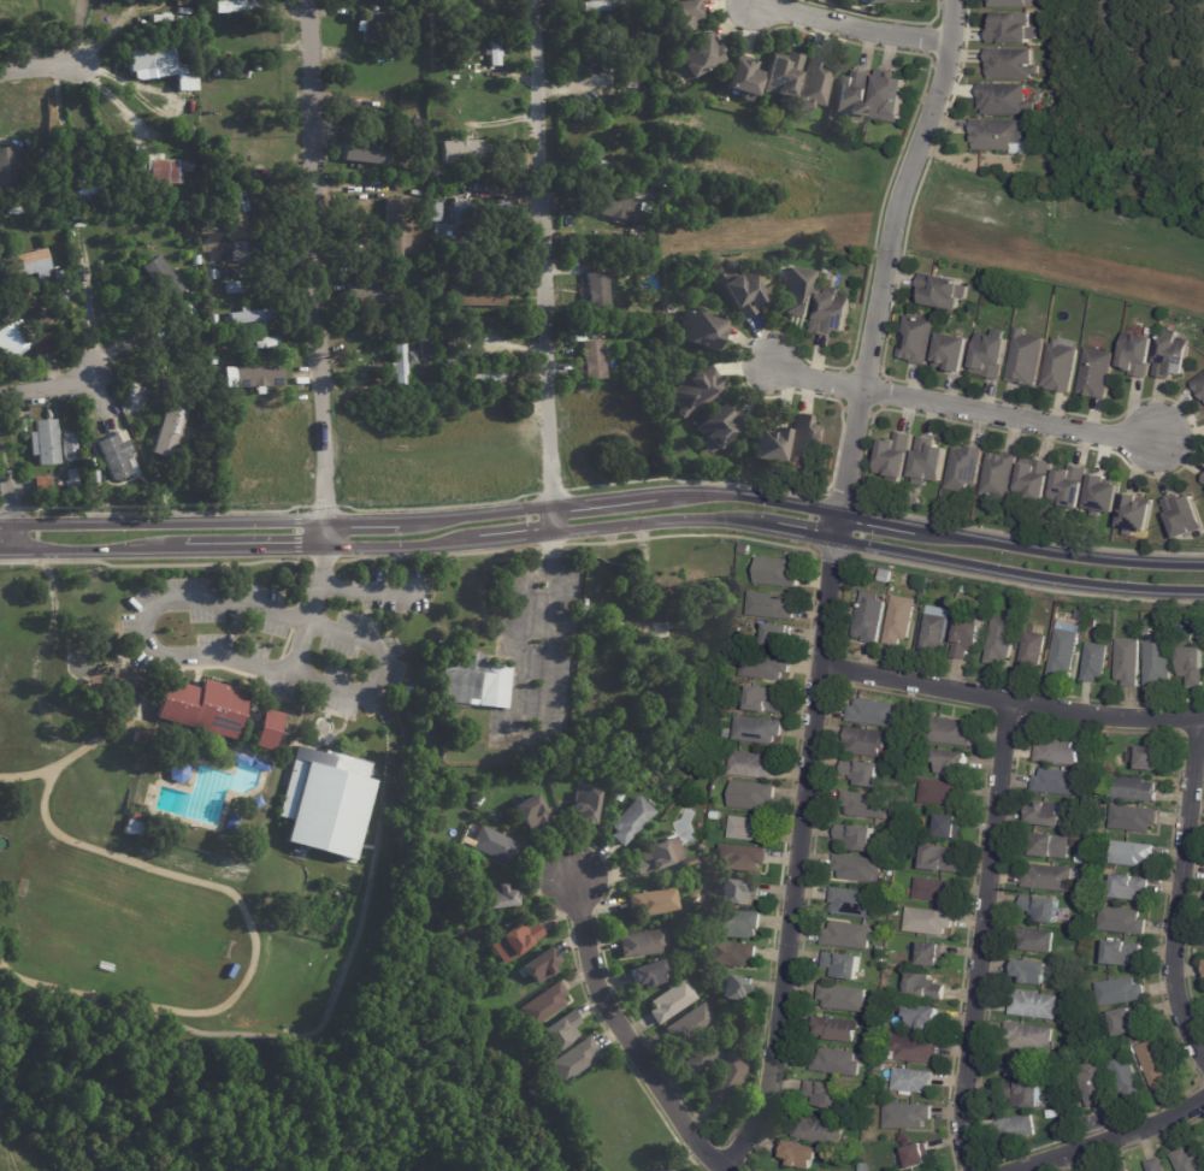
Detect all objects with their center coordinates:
building: (892, 2)
building: (1009, 4)
building: (607, 6)
building: (242, 7)
building: (645, 8)
building: (394, 10)
building: (477, 11)
building: (684, 16)
road: (854, 25)
building: (373, 28)
building: (1011, 31)
building: (496, 47)
building: (607, 47)
building: (696, 58)
road: (43, 64)
building: (1010, 65)
building: (159, 67)
building: (229, 67)
building: (631, 67)
building: (205, 73)
building: (783, 76)
building: (631, 79)
building: (743, 79)
building: (815, 83)
building: (641, 95)
building: (852, 96)
building: (887, 100)
building: (761, 101)
building: (1004, 101)
building: (136, 104)
building: (752, 113)
building: (370, 117)
building: (830, 125)
building: (999, 137)
building: (365, 148)
building: (93, 149)
building: (460, 153)
building: (64, 155)
building: (138, 156)
building: (653, 160)
building: (8, 167)
building: (165, 170)
building: (618, 171)
building: (655, 176)
park: (738, 177)
building: (88, 193)
building: (642, 194)
building: (181, 207)
building: (613, 208)
building: (16, 211)
building: (236, 212)
building: (435, 213)
building: (424, 214)
building: (394, 219)
building: (101, 221)
building: (77, 224)
building: (453, 229)
road: (885, 252)
road: (1178, 253)
building: (196, 261)
building: (649, 262)
building: (26, 265)
road: (539, 267)
road: (319, 273)
building: (212, 274)
building: (58, 277)
building: (163, 278)
building: (247, 289)
building: (368, 292)
building: (942, 292)
building: (476, 294)
building: (797, 294)
building: (597, 295)
building: (743, 295)
building: (61, 296)
building: (185, 311)
building: (651, 311)
building: (832, 315)
building: (249, 318)
building: (211, 321)
building: (600, 330)
building: (698, 332)
building: (242, 339)
building: (19, 341)
road: (131, 341)
building: (916, 341)
building: (265, 342)
road: (512, 348)
building: (426, 349)
building: (260, 350)
building: (952, 354)
building: (453, 356)
building: (1138, 356)
building: (990, 359)
building: (1174, 359)
building: (1025, 360)
building: (400, 361)
building: (212, 362)
building: (592, 362)
building: (1060, 368)
building: (485, 375)
building: (1096, 375)
building: (254, 378)
building: (1199, 386)
road: (46, 390)
building: (692, 390)
road: (962, 409)
building: (714, 425)
building: (169, 431)
building: (805, 442)
building: (43, 444)
building: (69, 448)
building: (771, 448)
building: (896, 455)
building: (116, 457)
building: (928, 462)
building: (964, 469)
building: (92, 477)
building: (999, 477)
building: (1035, 480)
building: (70, 481)
building: (1203, 481)
building: (42, 487)
building: (1070, 487)
building: (1103, 497)
road: (604, 501)
road: (11, 505)
building: (1137, 516)
building: (1184, 518)
road: (604, 528)
building: (1112, 537)
building: (744, 549)
building: (777, 573)
building: (886, 574)
road: (314, 584)
building: (677, 584)
road: (359, 589)
building: (966, 590)
building: (622, 599)
building: (769, 607)
building: (1084, 616)
building: (869, 617)
building: (899, 620)
building: (1092, 623)
building: (680, 631)
building: (933, 633)
road: (547, 635)
building: (774, 635)
building: (1147, 635)
building: (966, 639)
building: (1001, 640)
building: (704, 644)
road: (144, 646)
building: (1063, 650)
building: (1032, 651)
building: (1094, 662)
building: (1127, 662)
building: (1157, 664)
building: (1192, 664)
building: (763, 666)
road: (377, 672)
building: (473, 682)
building: (726, 688)
building: (762, 699)
road: (1010, 700)
building: (199, 706)
building: (870, 712)
building: (482, 718)
building: (445, 722)
building: (264, 729)
building: (756, 731)
building: (949, 733)
road: (94, 740)
road: (390, 743)
building: (864, 743)
building: (1057, 751)
building: (721, 758)
building: (1150, 759)
building: (950, 762)
building: (752, 765)
road: (26, 773)
building: (861, 773)
building: (1106, 776)
building: (1057, 782)
building: (672, 787)
building: (1133, 791)
building: (942, 793)
building: (619, 796)
building: (750, 796)
building: (478, 800)
building: (324, 802)
building: (863, 805)
building: (584, 806)
building: (532, 814)
building: (1045, 815)
building: (715, 817)
building: (1132, 818)
building: (631, 821)
building: (701, 826)
building: (948, 827)
building: (748, 829)
building: (1091, 830)
park: (194, 832)
building: (903, 834)
building: (855, 838)
building: (496, 845)
road: (798, 845)
building: (1051, 847)
building: (1131, 853)
building: (659, 856)
building: (419, 857)
building: (742, 858)
building: (939, 859)
building: (1080, 859)
building: (689, 862)
building: (890, 863)
building: (856, 869)
building: (1049, 879)
building: (1127, 887)
road: (1180, 889)
building: (931, 891)
building: (737, 892)
building: (498, 897)
building: (701, 900)
building: (655, 901)
building: (851, 903)
building: (1041, 909)
building: (893, 910)
building: (1121, 921)
building: (927, 922)
building: (736, 924)
building: (672, 933)
building: (846, 936)
road: (979, 936)
road: (253, 939)
building: (517, 940)
building: (1034, 941)
building: (643, 944)
building: (880, 950)
building: (1121, 953)
building: (730, 954)
building: (931, 954)
building: (879, 959)
building: (1203, 964)
building: (539, 966)
building: (672, 966)
building: (842, 966)
building: (1031, 972)
building: (648, 975)
building: (734, 988)
building: (923, 988)
building: (1119, 993)
building: (842, 999)
building: (672, 1001)
building: (544, 1005)
building: (1033, 1006)
building: (921, 1018)
building: (1120, 1023)
building: (690, 1025)
building: (834, 1030)
building: (561, 1031)
building: (743, 1034)
building: (870, 1035)
road: (250, 1036)
road: (632, 1037)
building: (1028, 1037)
building: (913, 1051)
building: (701, 1055)
building: (1093, 1055)
building: (573, 1060)
building: (834, 1063)
building: (1155, 1064)
park: (451, 1067)
building: (878, 1067)
building: (1021, 1067)
building: (1126, 1078)
building: (726, 1081)
building: (910, 1083)
building: (530, 1088)
building: (1093, 1089)
building: (822, 1095)
building: (1022, 1096)
building: (861, 1113)
building: (1051, 1114)
building: (907, 1117)
building: (858, 1124)
building: (1011, 1128)
road: (1102, 1129)
building: (819, 1132)
building: (801, 1155)
building: (919, 1157)
building: (1186, 1161)
park: (1094, 1165)
building: (1155, 1166)
building: (864, 1167)
building: (659, 1170)
building: (668, 1170)
building: (1122, 1170)

